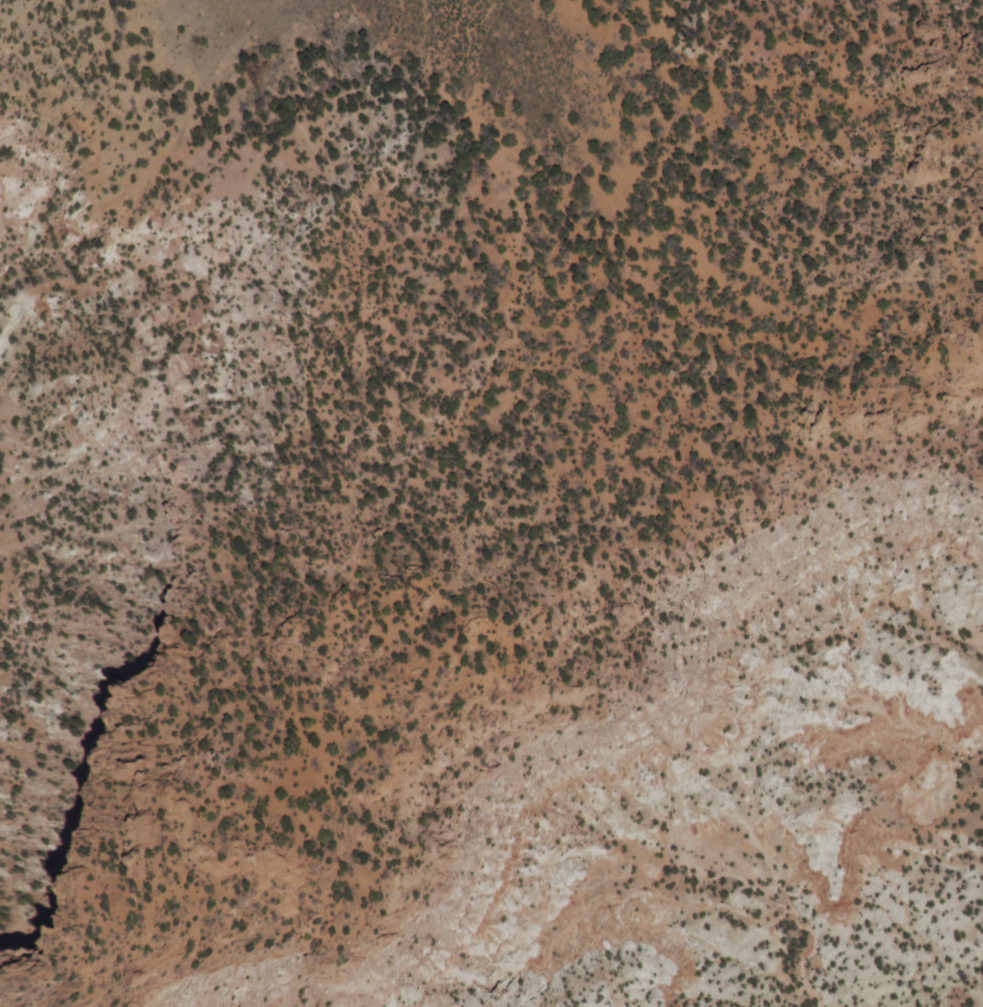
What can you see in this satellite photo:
road: (120, 150)

